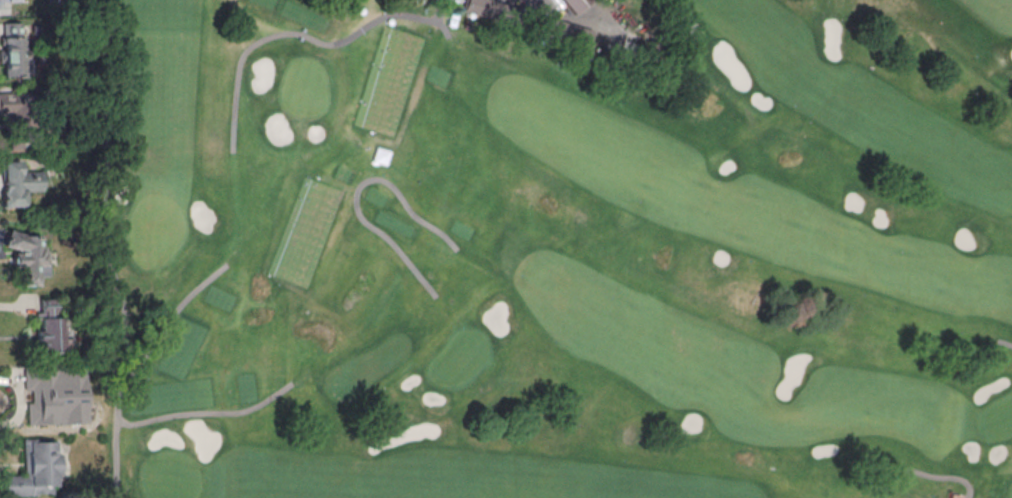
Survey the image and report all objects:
building: (576, 4)
building: (575, 36)
building: (18, 56)
park: (303, 88)
building: (16, 110)
building: (18, 183)
park: (155, 230)
park: (553, 248)
park: (545, 252)
building: (28, 257)
building: (50, 325)
park: (460, 357)
building: (53, 398)
park: (997, 419)
building: (37, 470)
park: (170, 477)
park: (1011, 495)

